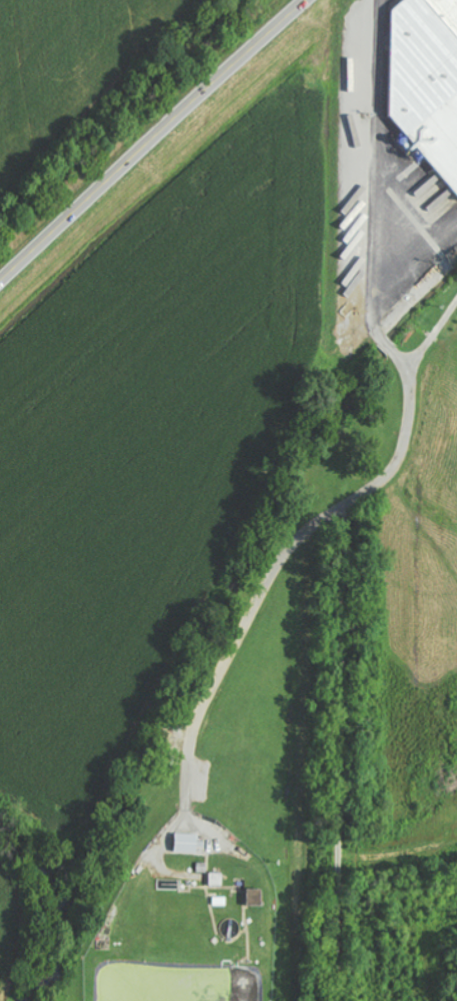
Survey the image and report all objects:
building: (429, 89)
road: (152, 139)
road: (383, 194)
building: (188, 843)
building: (217, 878)

